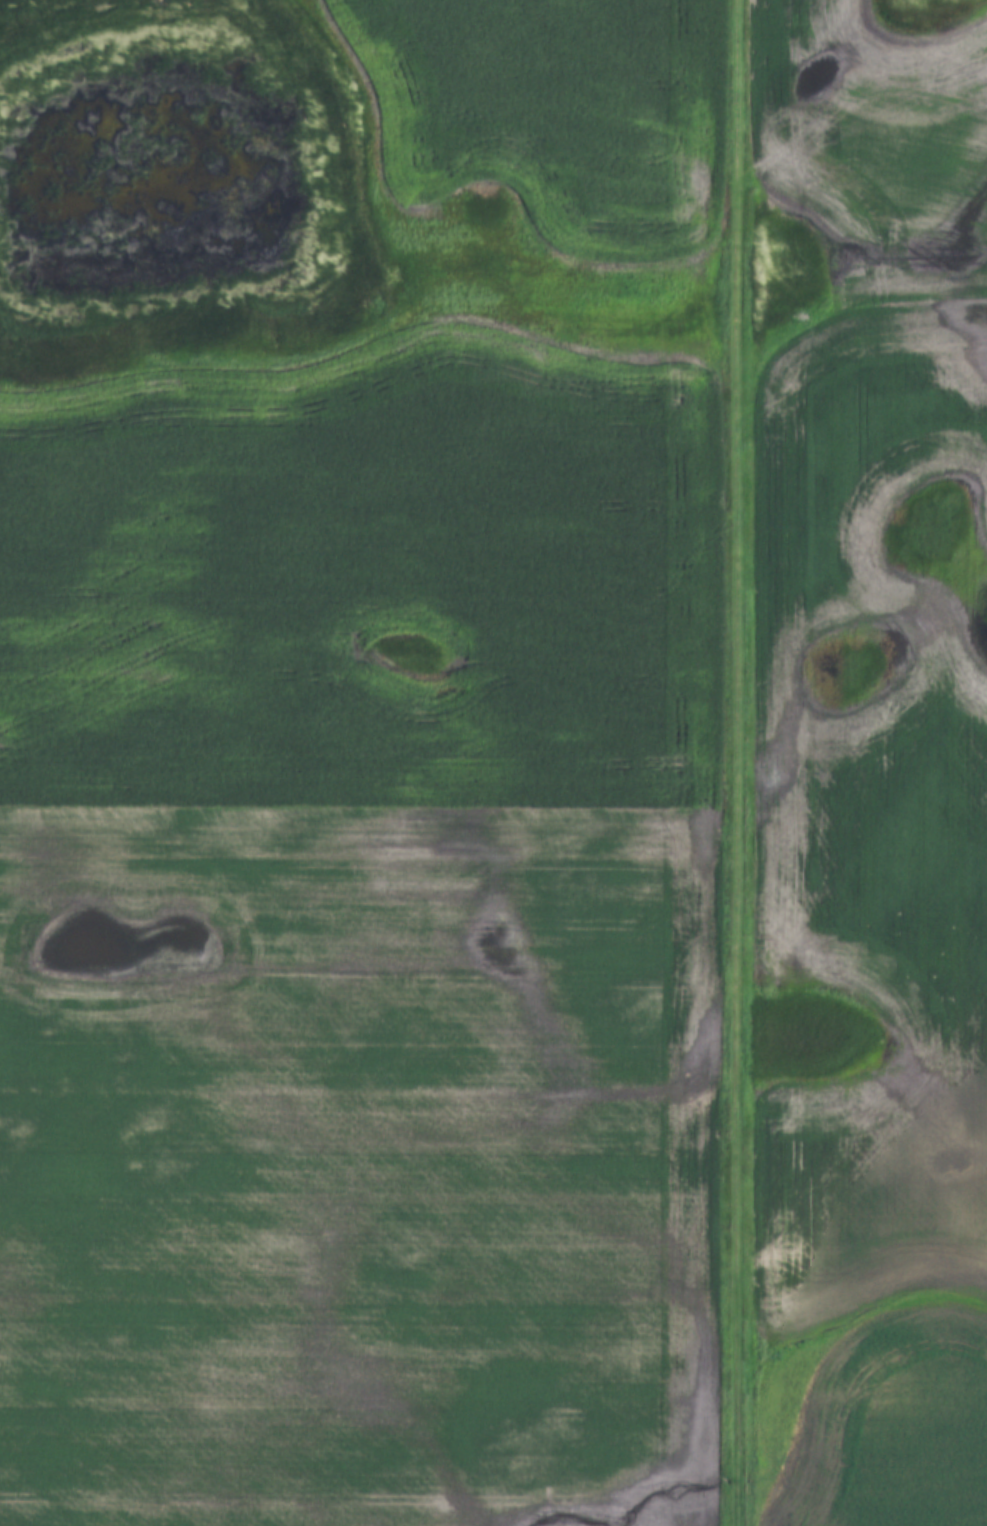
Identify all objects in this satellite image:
road: (772, 763)

